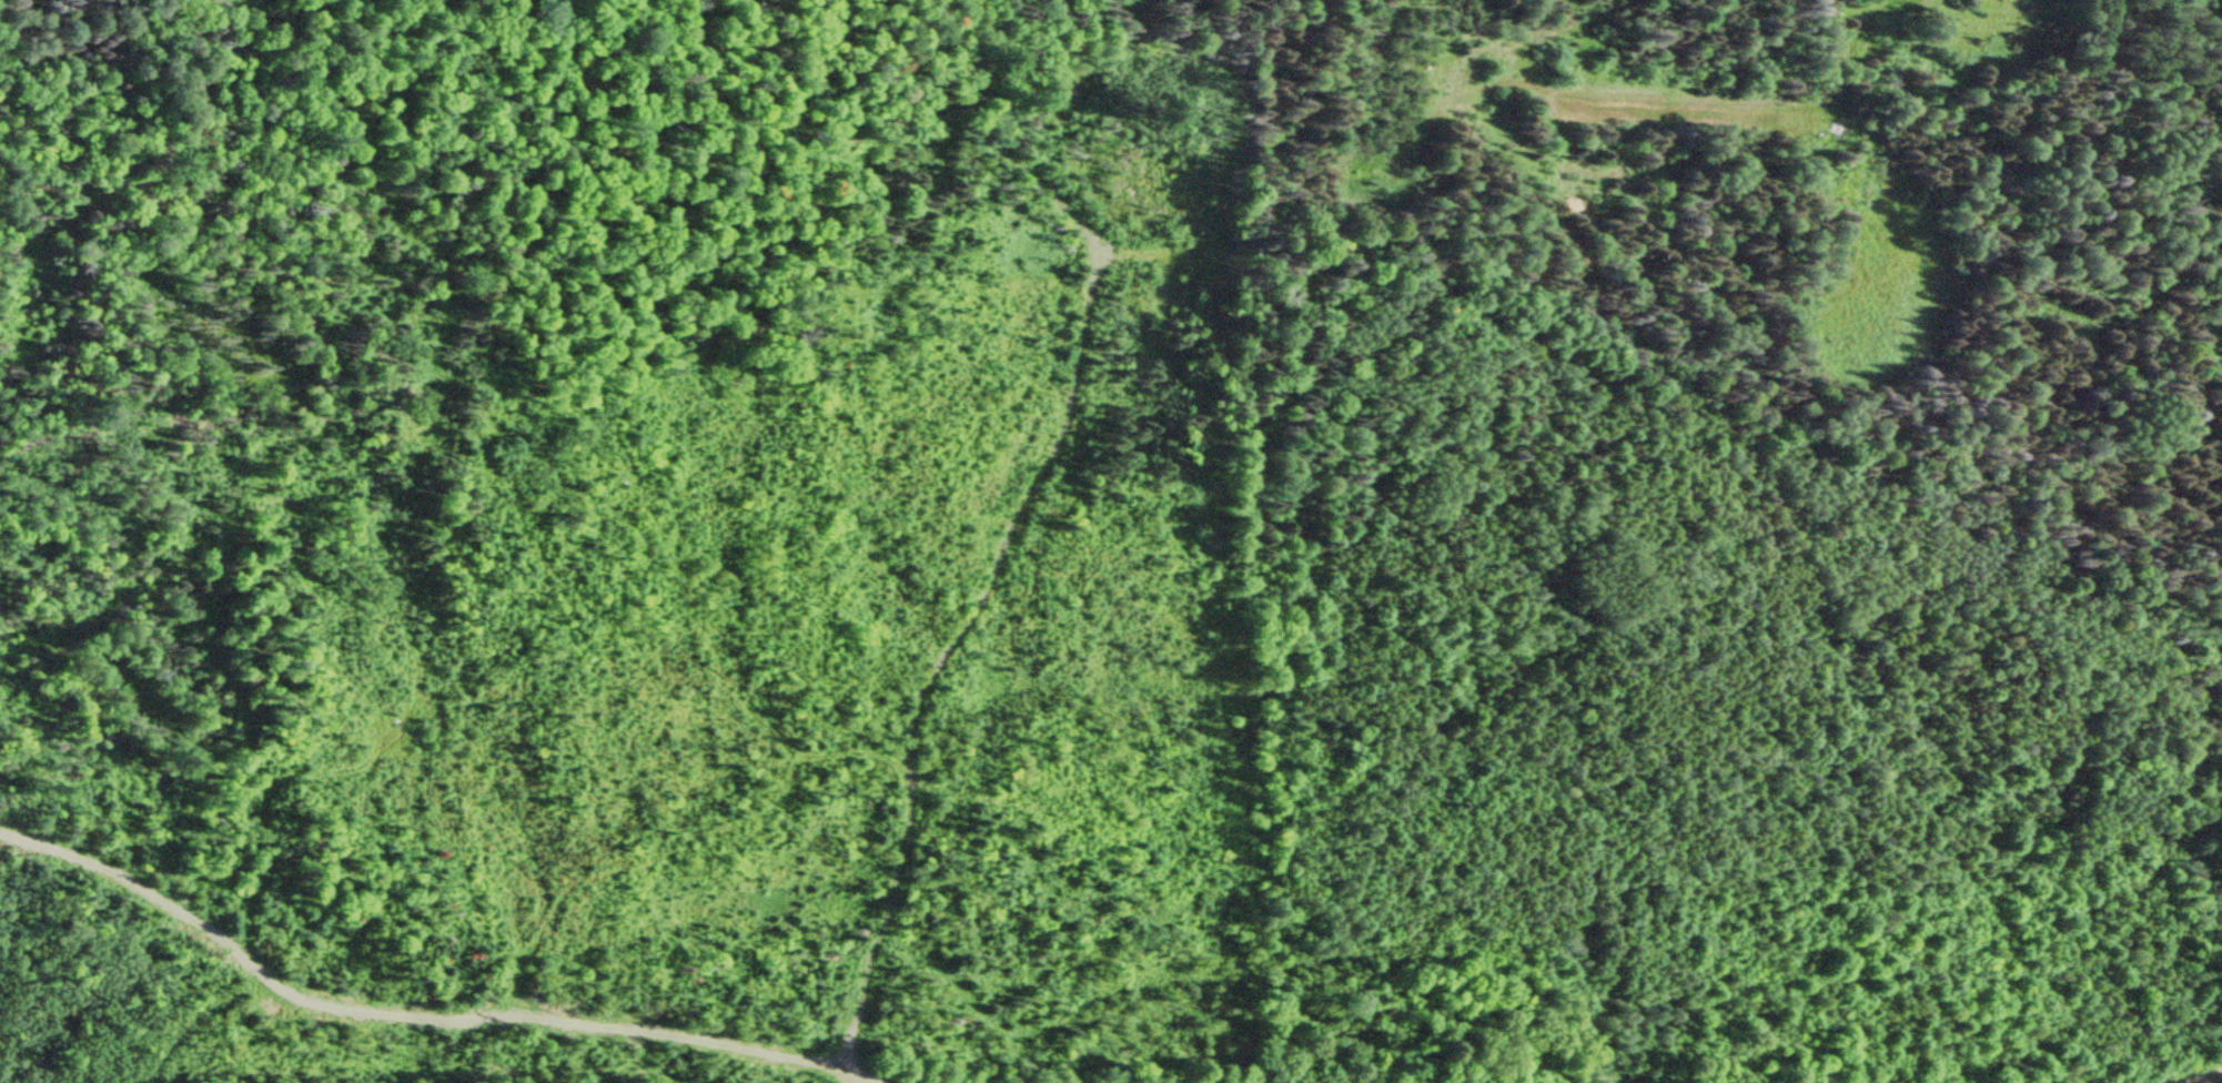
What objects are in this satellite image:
road: (426, 1005)
road: (2211, 1079)

